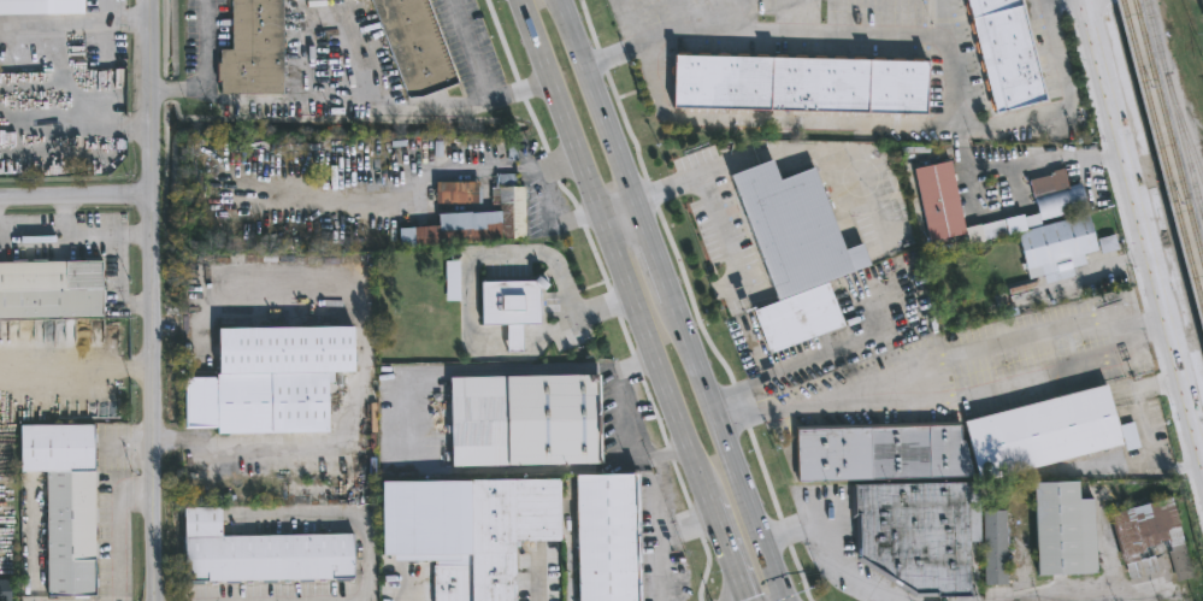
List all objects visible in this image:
road: (720, 4)
building: (37, 7)
road: (676, 12)
road: (96, 13)
road: (686, 22)
road: (624, 23)
road: (75, 26)
road: (814, 29)
building: (409, 46)
road: (205, 47)
road: (471, 47)
building: (248, 49)
building: (1004, 53)
road: (609, 57)
road: (951, 59)
building: (797, 84)
road: (172, 88)
building: (69, 89)
road: (521, 89)
road: (341, 101)
railway: (1174, 110)
road: (886, 120)
railway: (1169, 128)
road: (962, 147)
road: (786, 151)
railway: (1162, 153)
road: (1133, 161)
road: (548, 165)
road: (450, 169)
road: (983, 171)
road: (1152, 189)
building: (458, 193)
road: (77, 195)
road: (709, 196)
building: (937, 201)
building: (511, 204)
road: (619, 211)
road: (554, 220)
building: (1054, 229)
building: (448, 231)
building: (792, 231)
building: (987, 231)
road: (102, 232)
road: (47, 235)
road: (614, 251)
road: (468, 263)
road: (122, 283)
building: (48, 290)
road: (609, 296)
road: (154, 300)
road: (671, 300)
road: (692, 301)
building: (795, 318)
road: (968, 355)
road: (818, 358)
road: (365, 371)
road: (1190, 375)
building: (270, 381)
road: (959, 395)
building: (519, 419)
building: (1044, 431)
road: (427, 436)
building: (878, 453)
building: (65, 501)
building: (424, 520)
road: (342, 522)
building: (1060, 528)
building: (915, 534)
building: (500, 536)
building: (601, 536)
road: (657, 537)
building: (1150, 537)
road: (827, 543)
building: (992, 546)
building: (255, 552)
road: (726, 552)
road: (730, 584)
building: (4, 589)
traffic signals: (745, 600)

